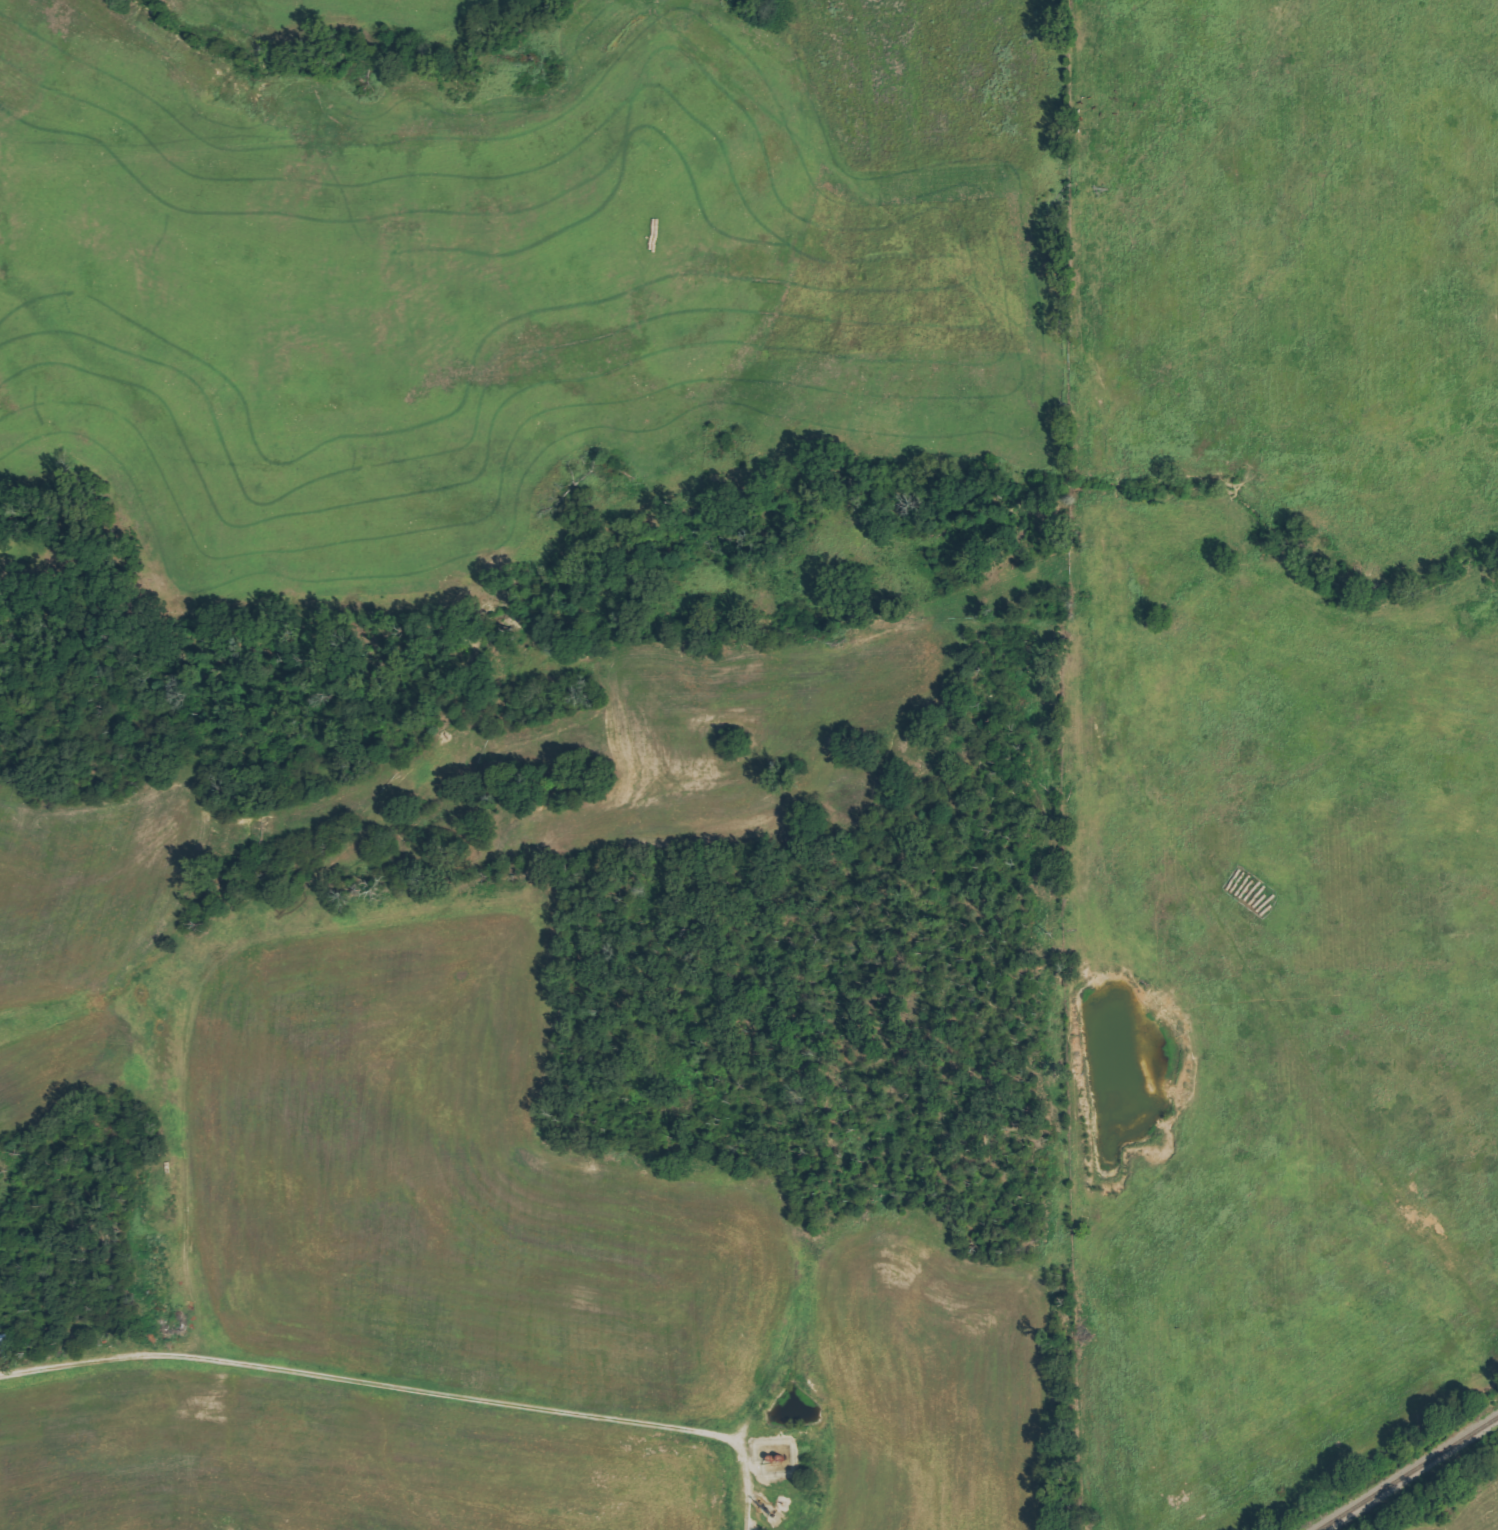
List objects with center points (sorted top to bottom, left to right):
railway: (1408, 1473)

